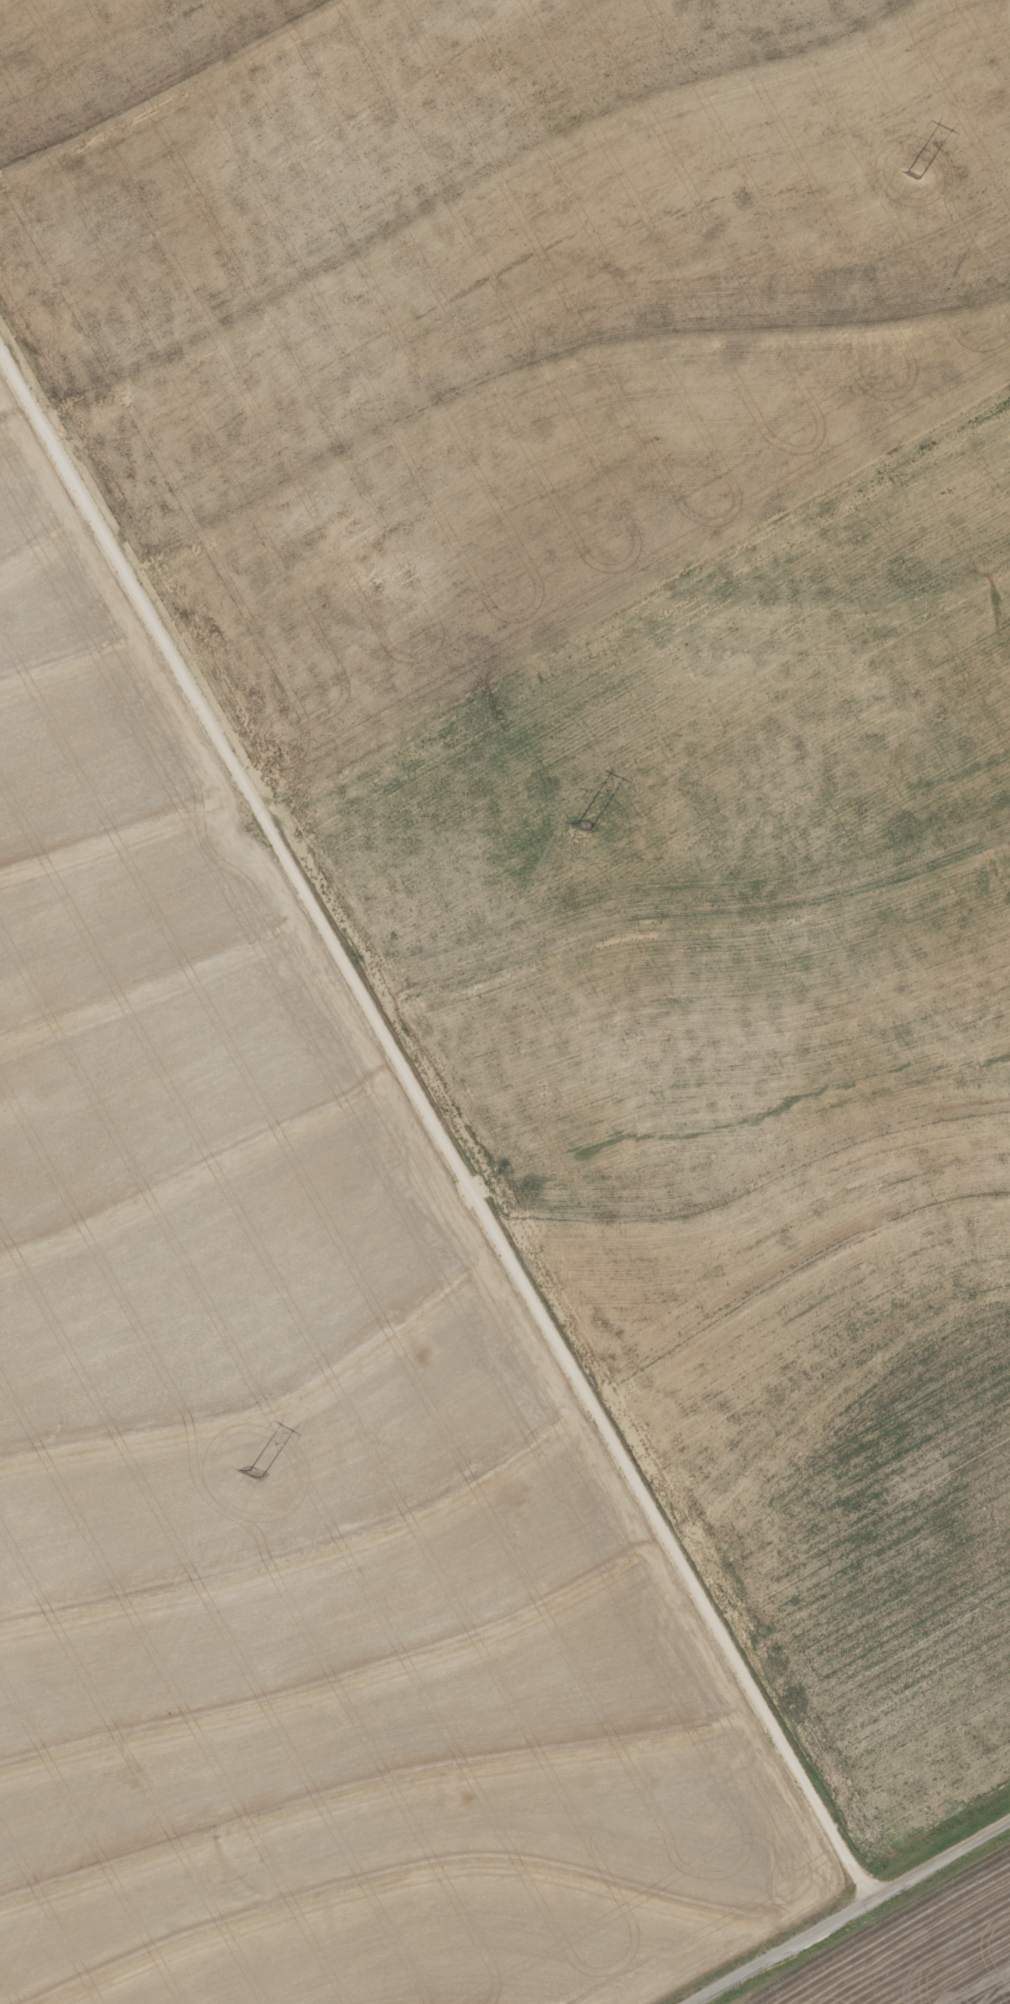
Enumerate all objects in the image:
power tower: (913, 175)
power tower: (586, 827)
road: (436, 1116)
power tower: (246, 1476)
road: (848, 1911)

